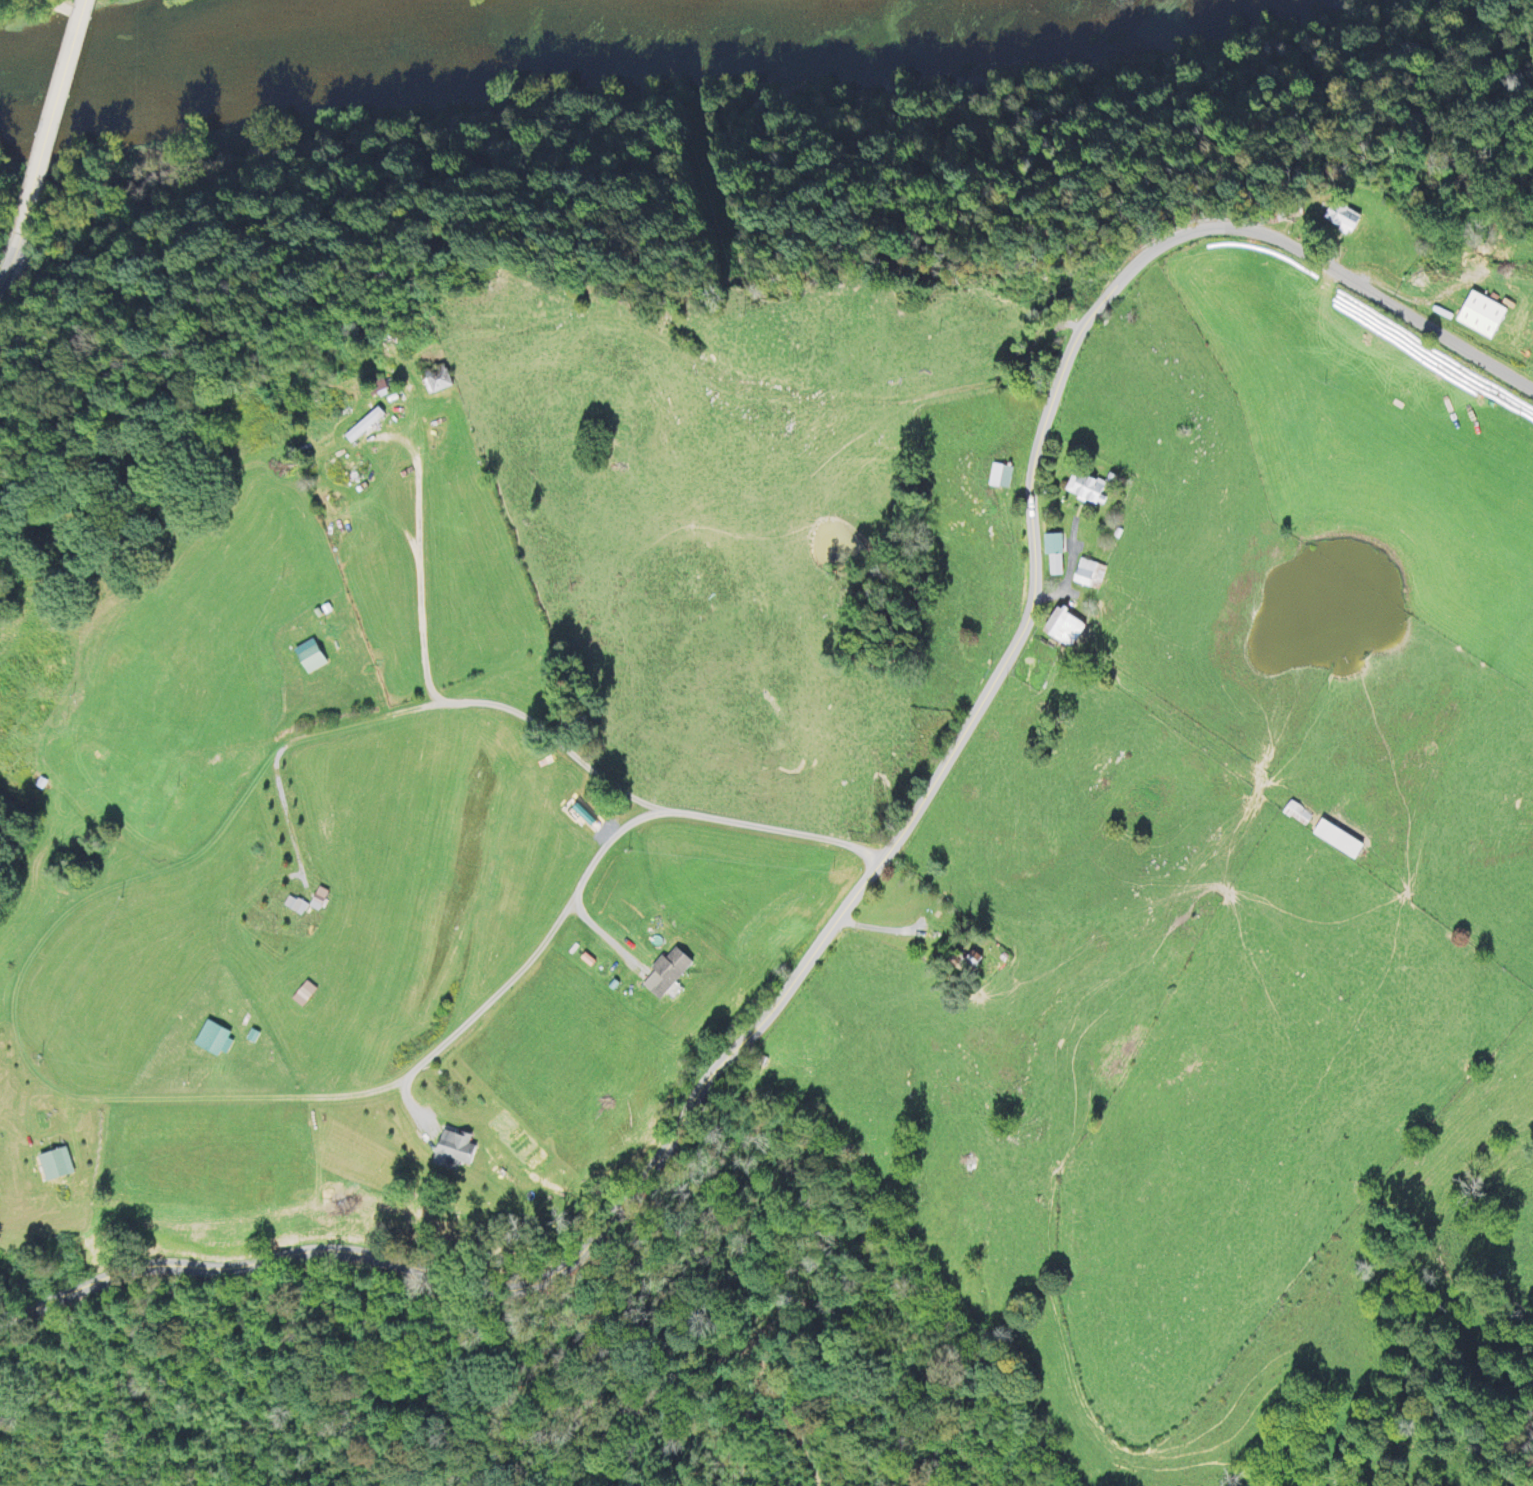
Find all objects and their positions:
river: (529, 40)
road: (59, 109)
building: (1340, 217)
road: (18, 259)
road: (5, 288)
building: (1479, 315)
building: (435, 379)
building: (375, 386)
building: (363, 425)
building: (345, 471)
building: (999, 475)
building: (1085, 489)
building: (1053, 554)
building: (1088, 574)
building: (1062, 628)
building: (310, 657)
road: (245, 788)
building: (1296, 814)
building: (1336, 840)
road: (886, 842)
building: (665, 972)
road: (510, 989)
building: (210, 1039)
building: (452, 1150)
building: (54, 1164)

